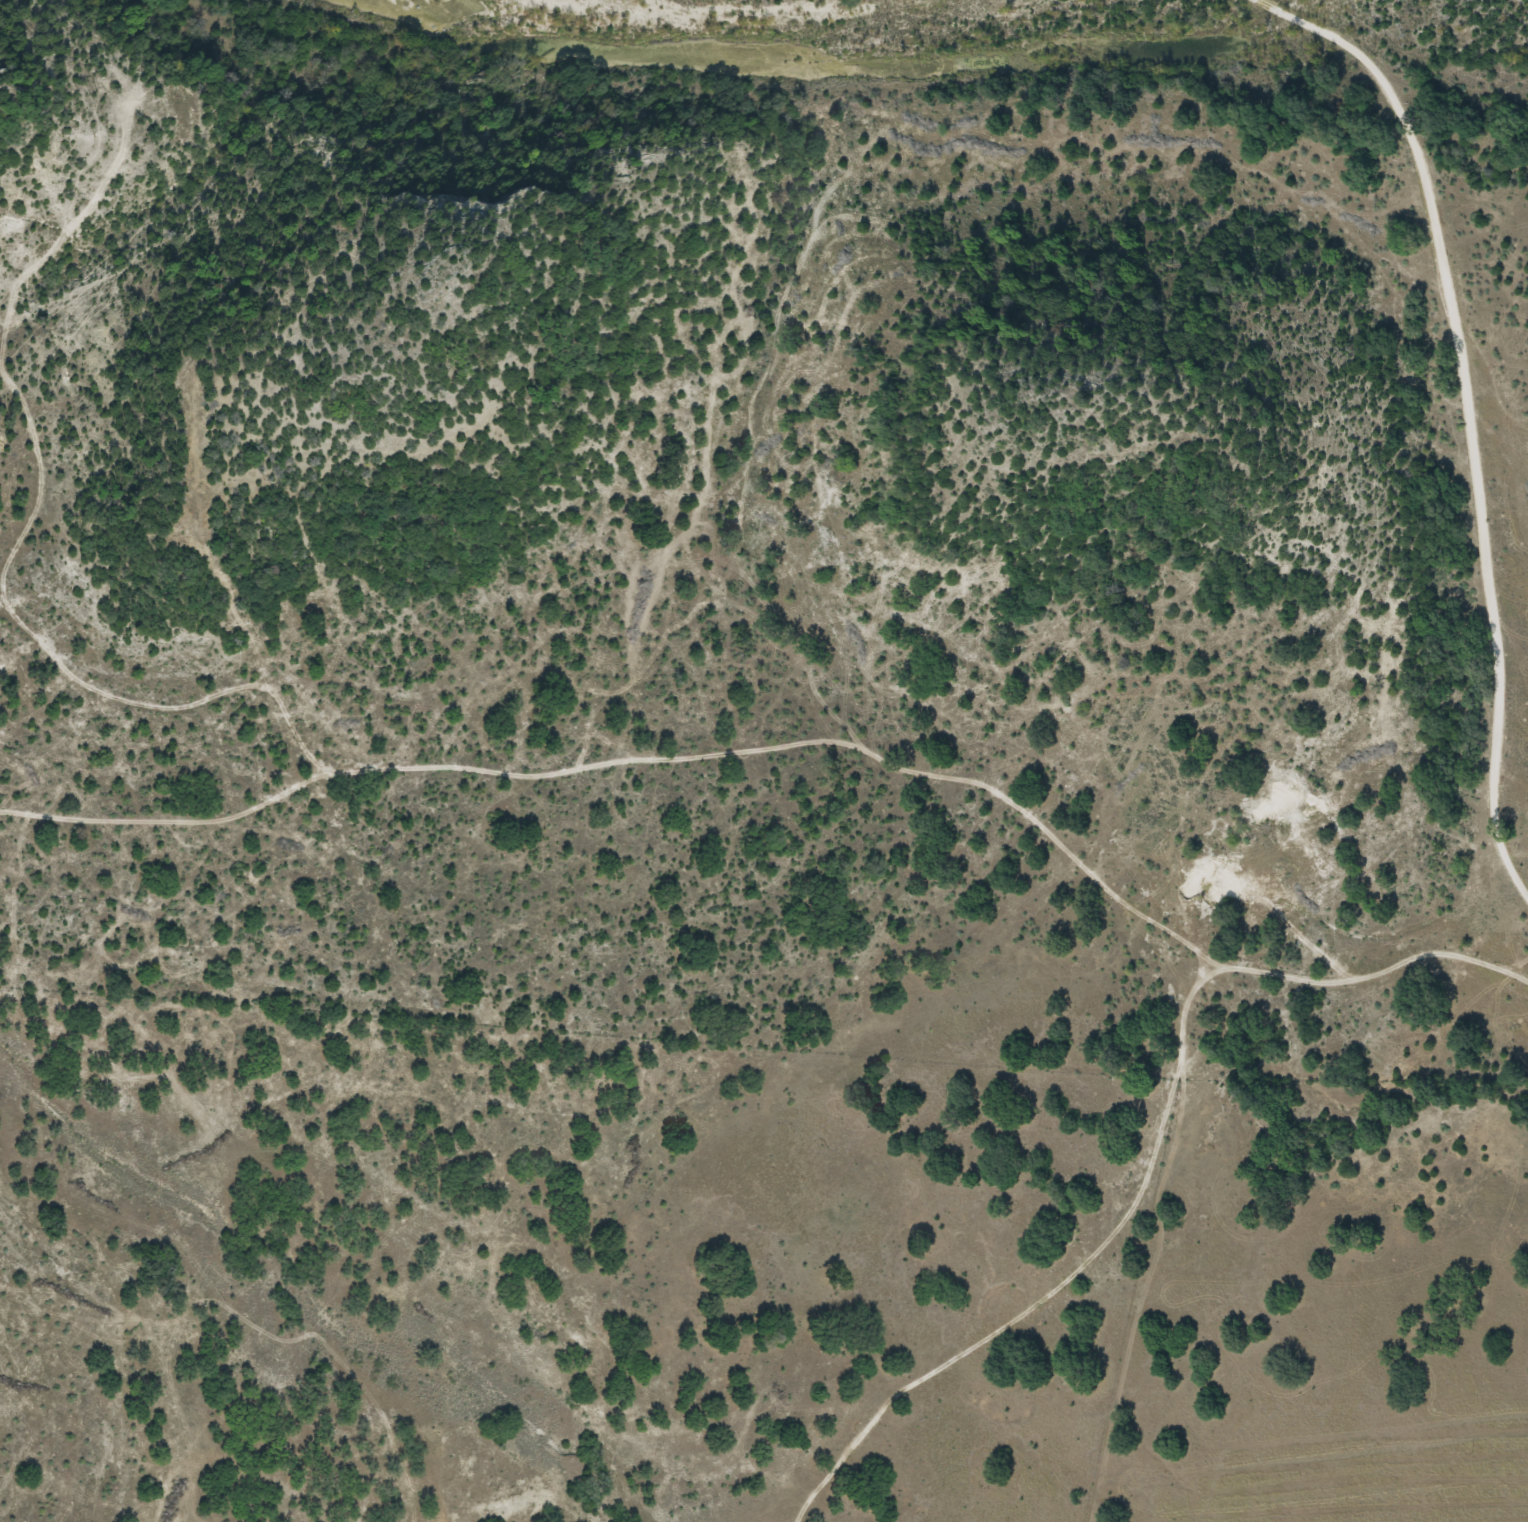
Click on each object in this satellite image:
river: (1252, 21)
river: (802, 49)
road: (1474, 402)
road: (795, 749)

